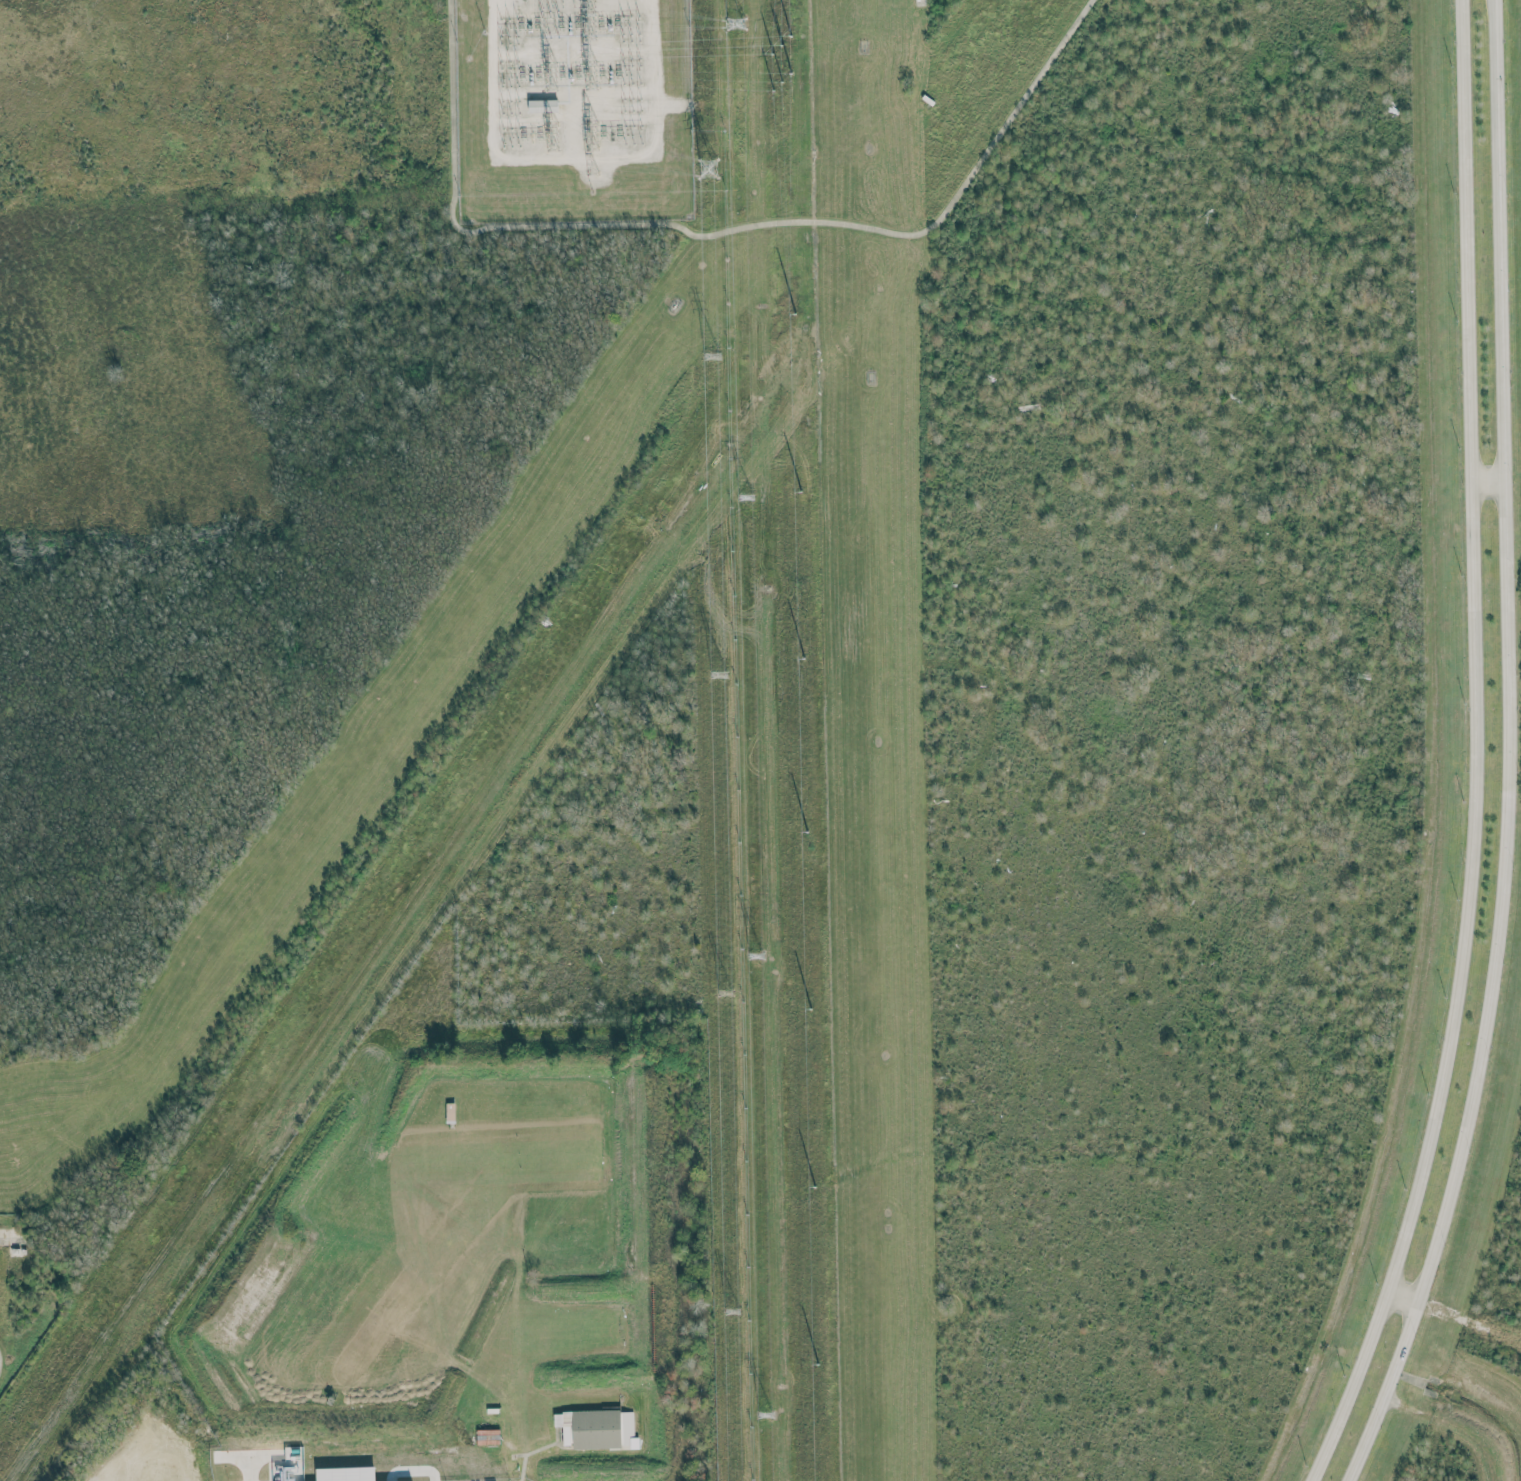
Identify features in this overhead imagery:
power tower: (737, 24)
building: (540, 105)
power substation: (572, 109)
power tower: (707, 170)
road: (715, 232)
power tower: (713, 355)
road: (1486, 481)
power tower: (745, 496)
power tower: (719, 673)
road: (1473, 752)
road: (1505, 752)
power tower: (755, 957)
power tower: (725, 992)
road: (1401, 1296)
power tower: (731, 1311)
power tower: (763, 1414)
building: (596, 1429)
road: (252, 1476)

